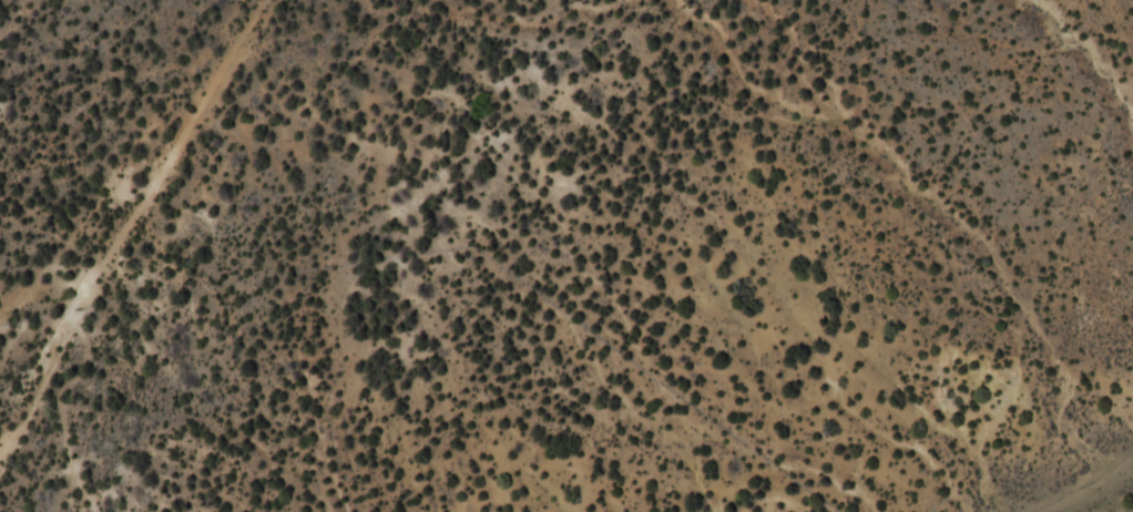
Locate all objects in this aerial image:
road: (173, 153)

